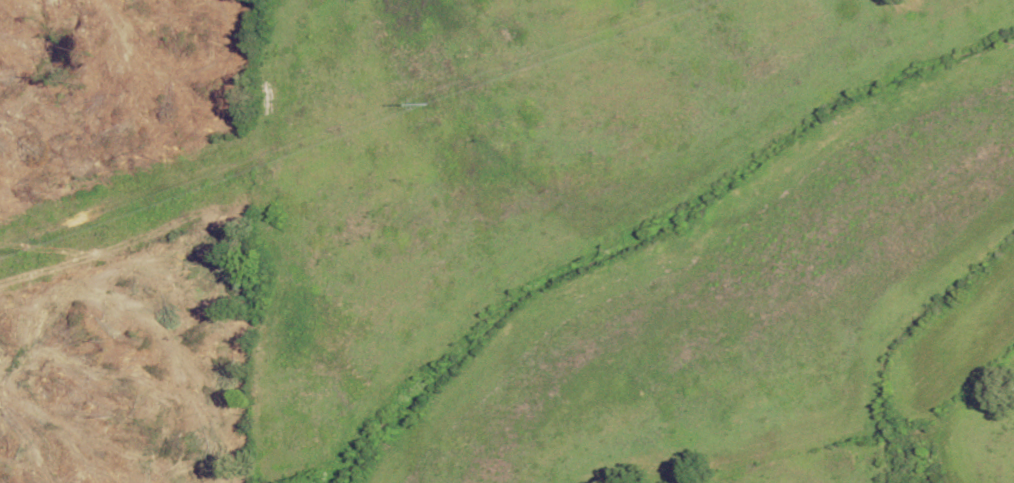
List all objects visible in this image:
power tower: (429, 104)

